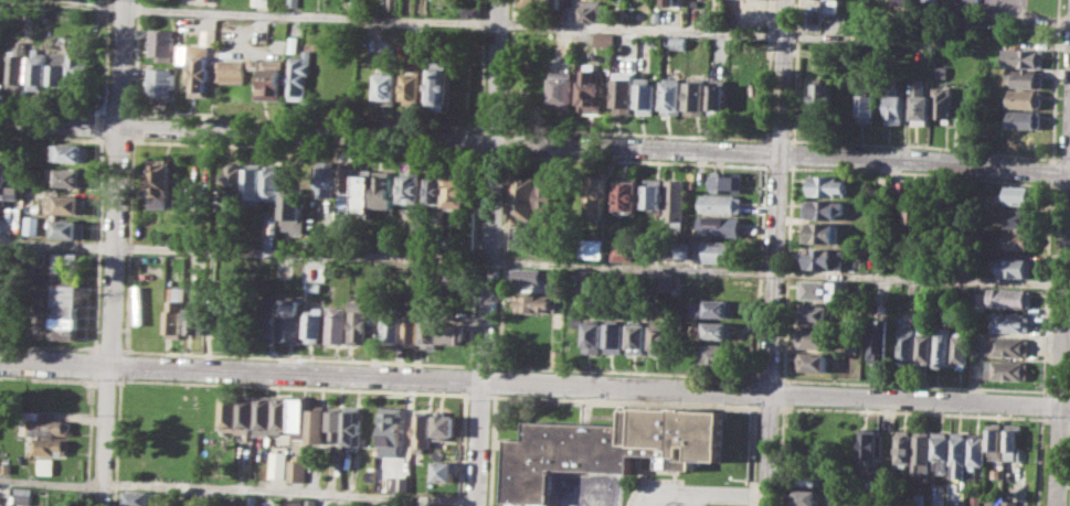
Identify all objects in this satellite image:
building: (907, 0)
building: (933, 0)
road: (65, 2)
building: (259, 2)
building: (294, 2)
building: (668, 2)
building: (542, 4)
parking lot: (995, 8)
building: (472, 11)
building: (587, 12)
parking lot: (745, 13)
building: (657, 15)
road: (1032, 18)
building: (186, 23)
road: (526, 23)
building: (604, 40)
building: (209, 41)
building: (679, 42)
building: (161, 43)
building: (295, 43)
road: (107, 57)
building: (413, 57)
building: (1023, 57)
building: (253, 62)
building: (13, 66)
building: (55, 67)
building: (75, 67)
building: (36, 71)
building: (232, 71)
building: (199, 72)
building: (939, 72)
building: (300, 73)
building: (1027, 78)
building: (272, 80)
road: (1055, 80)
building: (160, 83)
building: (439, 85)
building: (413, 88)
building: (386, 89)
building: (561, 90)
building: (591, 90)
building: (624, 90)
building: (648, 96)
building: (674, 96)
building: (698, 97)
building: (718, 97)
building: (1023, 98)
building: (824, 99)
building: (941, 103)
building: (920, 104)
building: (867, 107)
building: (893, 108)
road: (51, 109)
road: (117, 111)
road: (133, 112)
road: (135, 116)
road: (252, 118)
building: (1023, 119)
road: (99, 125)
road: (133, 127)
road: (494, 128)
road: (703, 134)
road: (50, 137)
road: (778, 138)
road: (115, 140)
road: (534, 141)
road: (923, 144)
road: (305, 148)
building: (68, 152)
road: (491, 154)
road: (1064, 159)
road: (741, 164)
road: (766, 165)
road: (777, 166)
road: (1052, 172)
road: (922, 173)
building: (67, 176)
building: (161, 177)
building: (326, 179)
building: (233, 180)
building: (273, 181)
building: (728, 181)
road: (115, 182)
building: (882, 182)
building: (254, 183)
building: (7, 184)
building: (346, 185)
building: (411, 185)
building: (829, 185)
road: (1063, 187)
building: (383, 190)
road: (491, 190)
building: (434, 191)
building: (363, 192)
building: (456, 192)
building: (654, 193)
building: (595, 194)
building: (1018, 194)
building: (548, 196)
building: (627, 196)
building: (676, 198)
building: (66, 203)
building: (720, 203)
building: (294, 205)
building: (824, 208)
building: (521, 211)
building: (917, 215)
building: (1023, 218)
building: (30, 224)
building: (719, 226)
building: (68, 228)
building: (822, 232)
building: (1019, 239)
road: (99, 243)
road: (128, 245)
building: (594, 248)
building: (681, 248)
building: (625, 250)
building: (722, 250)
road: (775, 252)
building: (825, 257)
road: (531, 261)
building: (1015, 267)
building: (533, 274)
building: (453, 276)
building: (721, 283)
road: (1048, 289)
building: (824, 290)
road: (1067, 291)
building: (65, 295)
building: (1010, 297)
building: (977, 300)
building: (536, 303)
building: (712, 308)
building: (176, 312)
building: (818, 314)
building: (4, 316)
building: (267, 317)
building: (194, 320)
building: (230, 320)
building: (288, 320)
building: (354, 322)
building: (1010, 322)
building: (310, 323)
building: (333, 325)
building: (392, 325)
building: (410, 330)
building: (719, 330)
building: (428, 333)
building: (453, 333)
building: (594, 335)
building: (616, 336)
building: (660, 336)
building: (638, 337)
building: (816, 337)
road: (1062, 337)
building: (880, 341)
building: (908, 345)
building: (925, 345)
building: (943, 345)
building: (1008, 345)
building: (961, 346)
building: (854, 347)
building: (975, 349)
building: (719, 353)
road: (235, 355)
building: (558, 357)
building: (813, 360)
road: (123, 363)
road: (93, 364)
road: (481, 365)
building: (1008, 369)
road: (626, 370)
road: (770, 377)
road: (106, 380)
road: (92, 381)
road: (534, 381)
road: (914, 385)
road: (293, 386)
road: (754, 391)
road: (1059, 391)
road: (1069, 391)
road: (481, 394)
road: (91, 397)
road: (625, 399)
road: (1042, 403)
road: (770, 406)
building: (224, 410)
building: (241, 411)
road: (914, 411)
building: (276, 412)
building: (258, 415)
building: (294, 417)
road: (1060, 418)
building: (331, 422)
building: (312, 423)
building: (349, 424)
building: (446, 426)
building: (49, 427)
building: (390, 430)
building: (423, 431)
road: (104, 434)
road: (117, 439)
building: (1013, 441)
road: (478, 442)
building: (868, 442)
building: (995, 442)
building: (50, 445)
building: (904, 446)
building: (608, 448)
building: (976, 450)
building: (922, 451)
building: (941, 451)
road: (752, 454)
building: (958, 454)
road: (1040, 460)
building: (275, 464)
building: (46, 465)
building: (7, 466)
building: (294, 467)
building: (444, 471)
building: (995, 472)
building: (806, 473)
building: (399, 484)
road: (237, 487)
road: (666, 491)
road: (730, 493)
parking lot: (670, 494)
building: (24, 495)
building: (805, 496)
building: (138, 498)
road: (692, 498)
building: (920, 499)
building: (993, 499)
building: (250, 500)
building: (289, 502)
building: (309, 503)
building: (1009, 503)
building: (438, 505)

